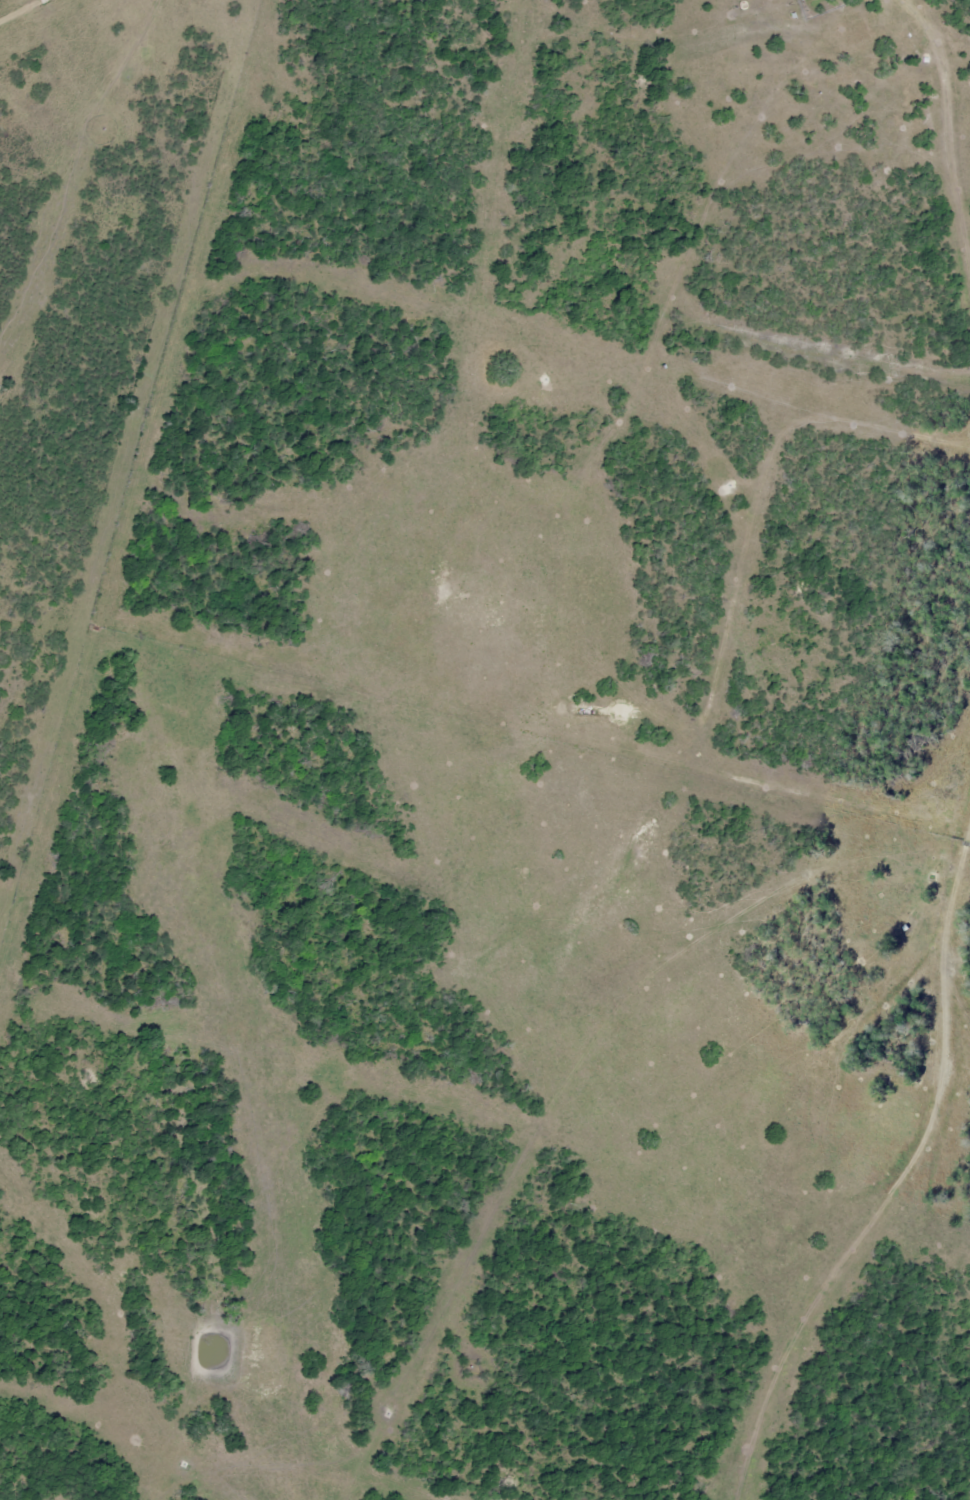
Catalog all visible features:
road: (18, 9)
building: (793, 15)
building: (827, 27)
building: (913, 28)
building: (935, 899)

